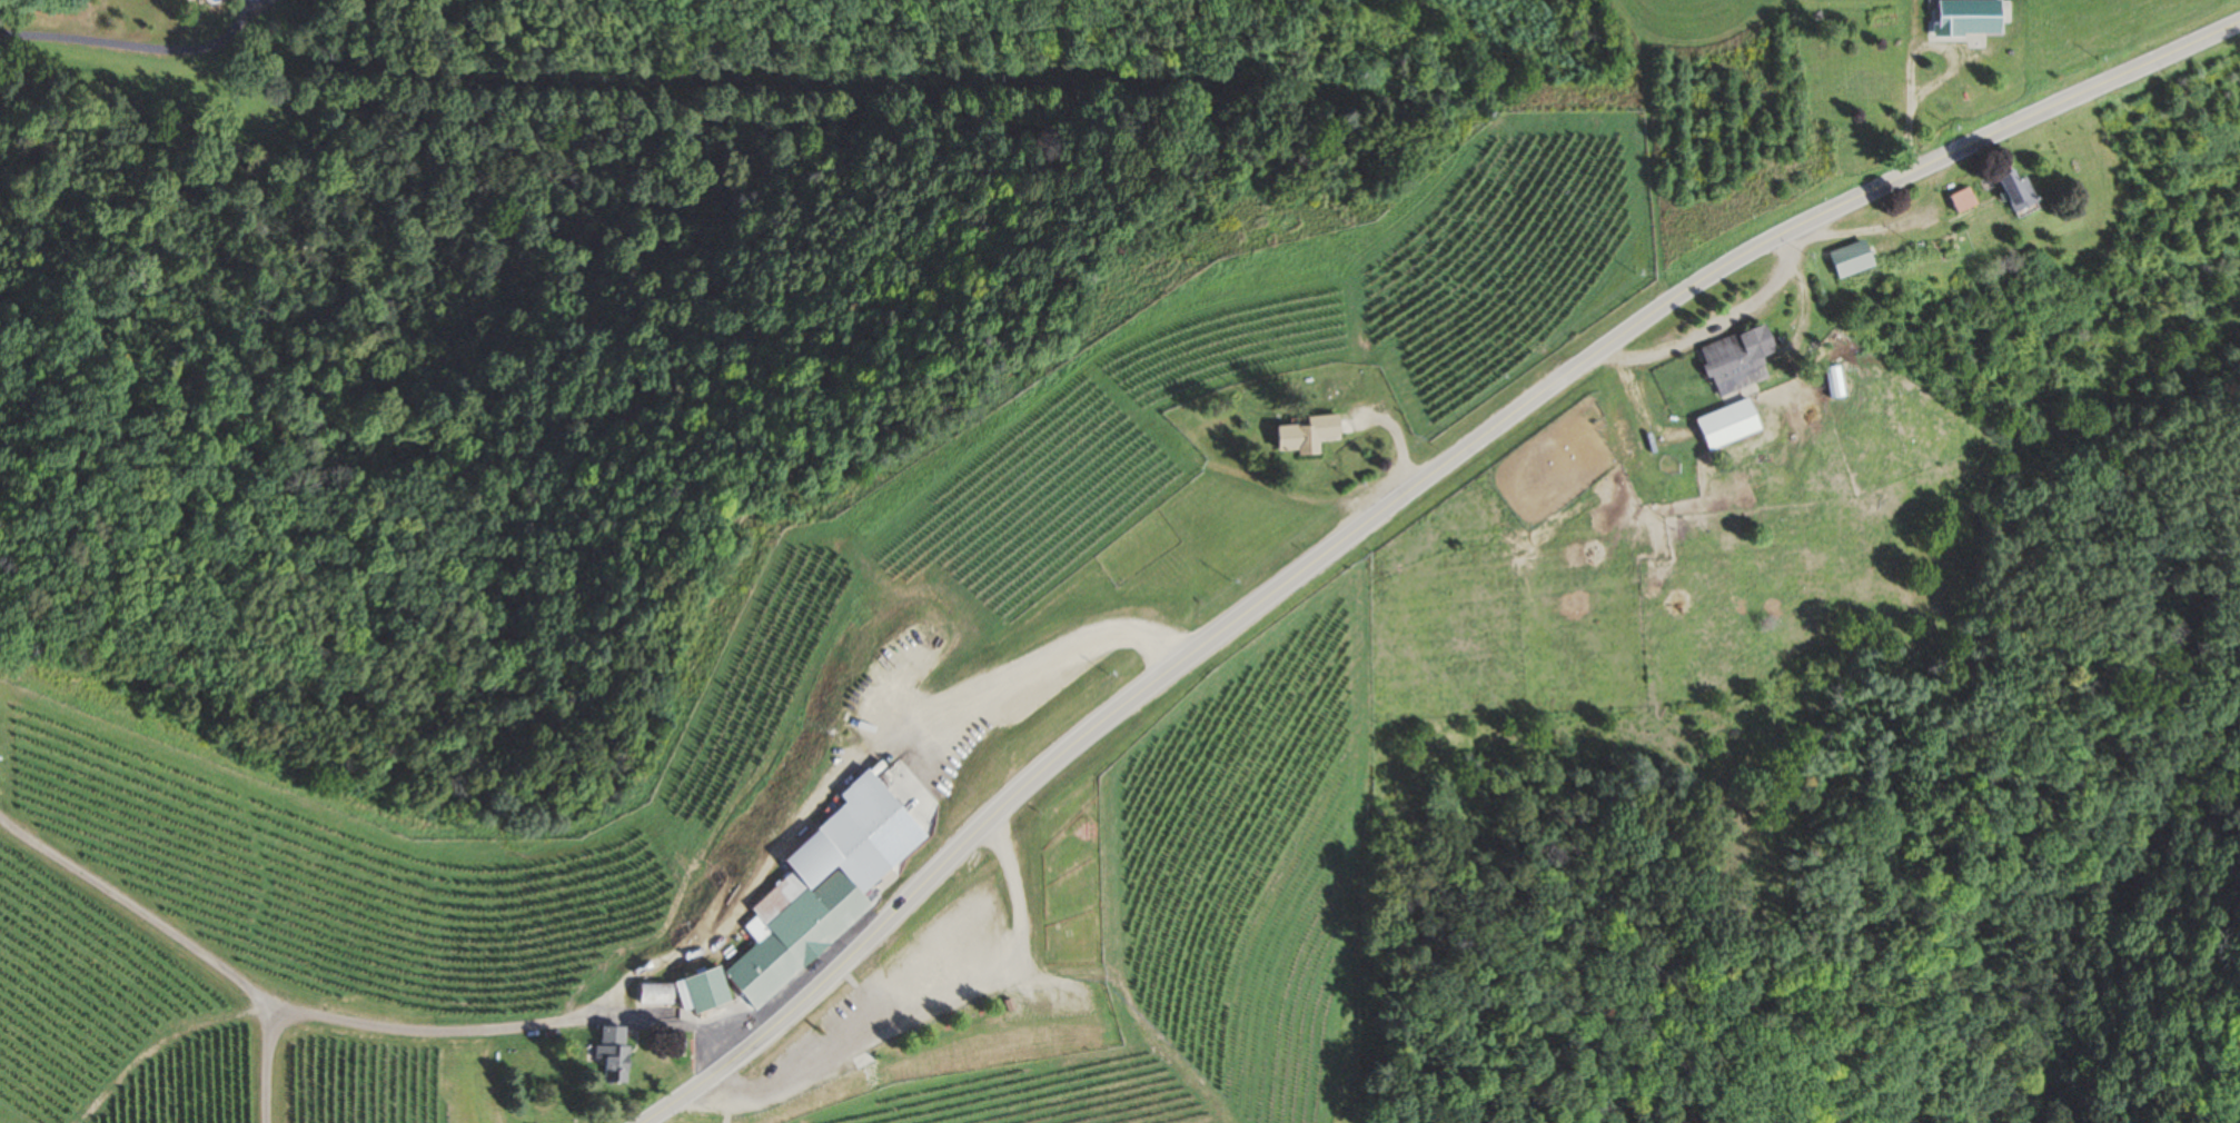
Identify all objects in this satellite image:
building: (1969, 18)
road: (99, 40)
building: (1869, 86)
building: (2015, 192)
building: (1961, 201)
building: (1851, 260)
building: (1736, 360)
building: (1726, 425)
building: (1306, 435)
road: (1401, 506)
building: (812, 896)
building: (700, 991)
building: (653, 994)
road: (558, 1017)
building: (612, 1053)
road: (271, 1067)

